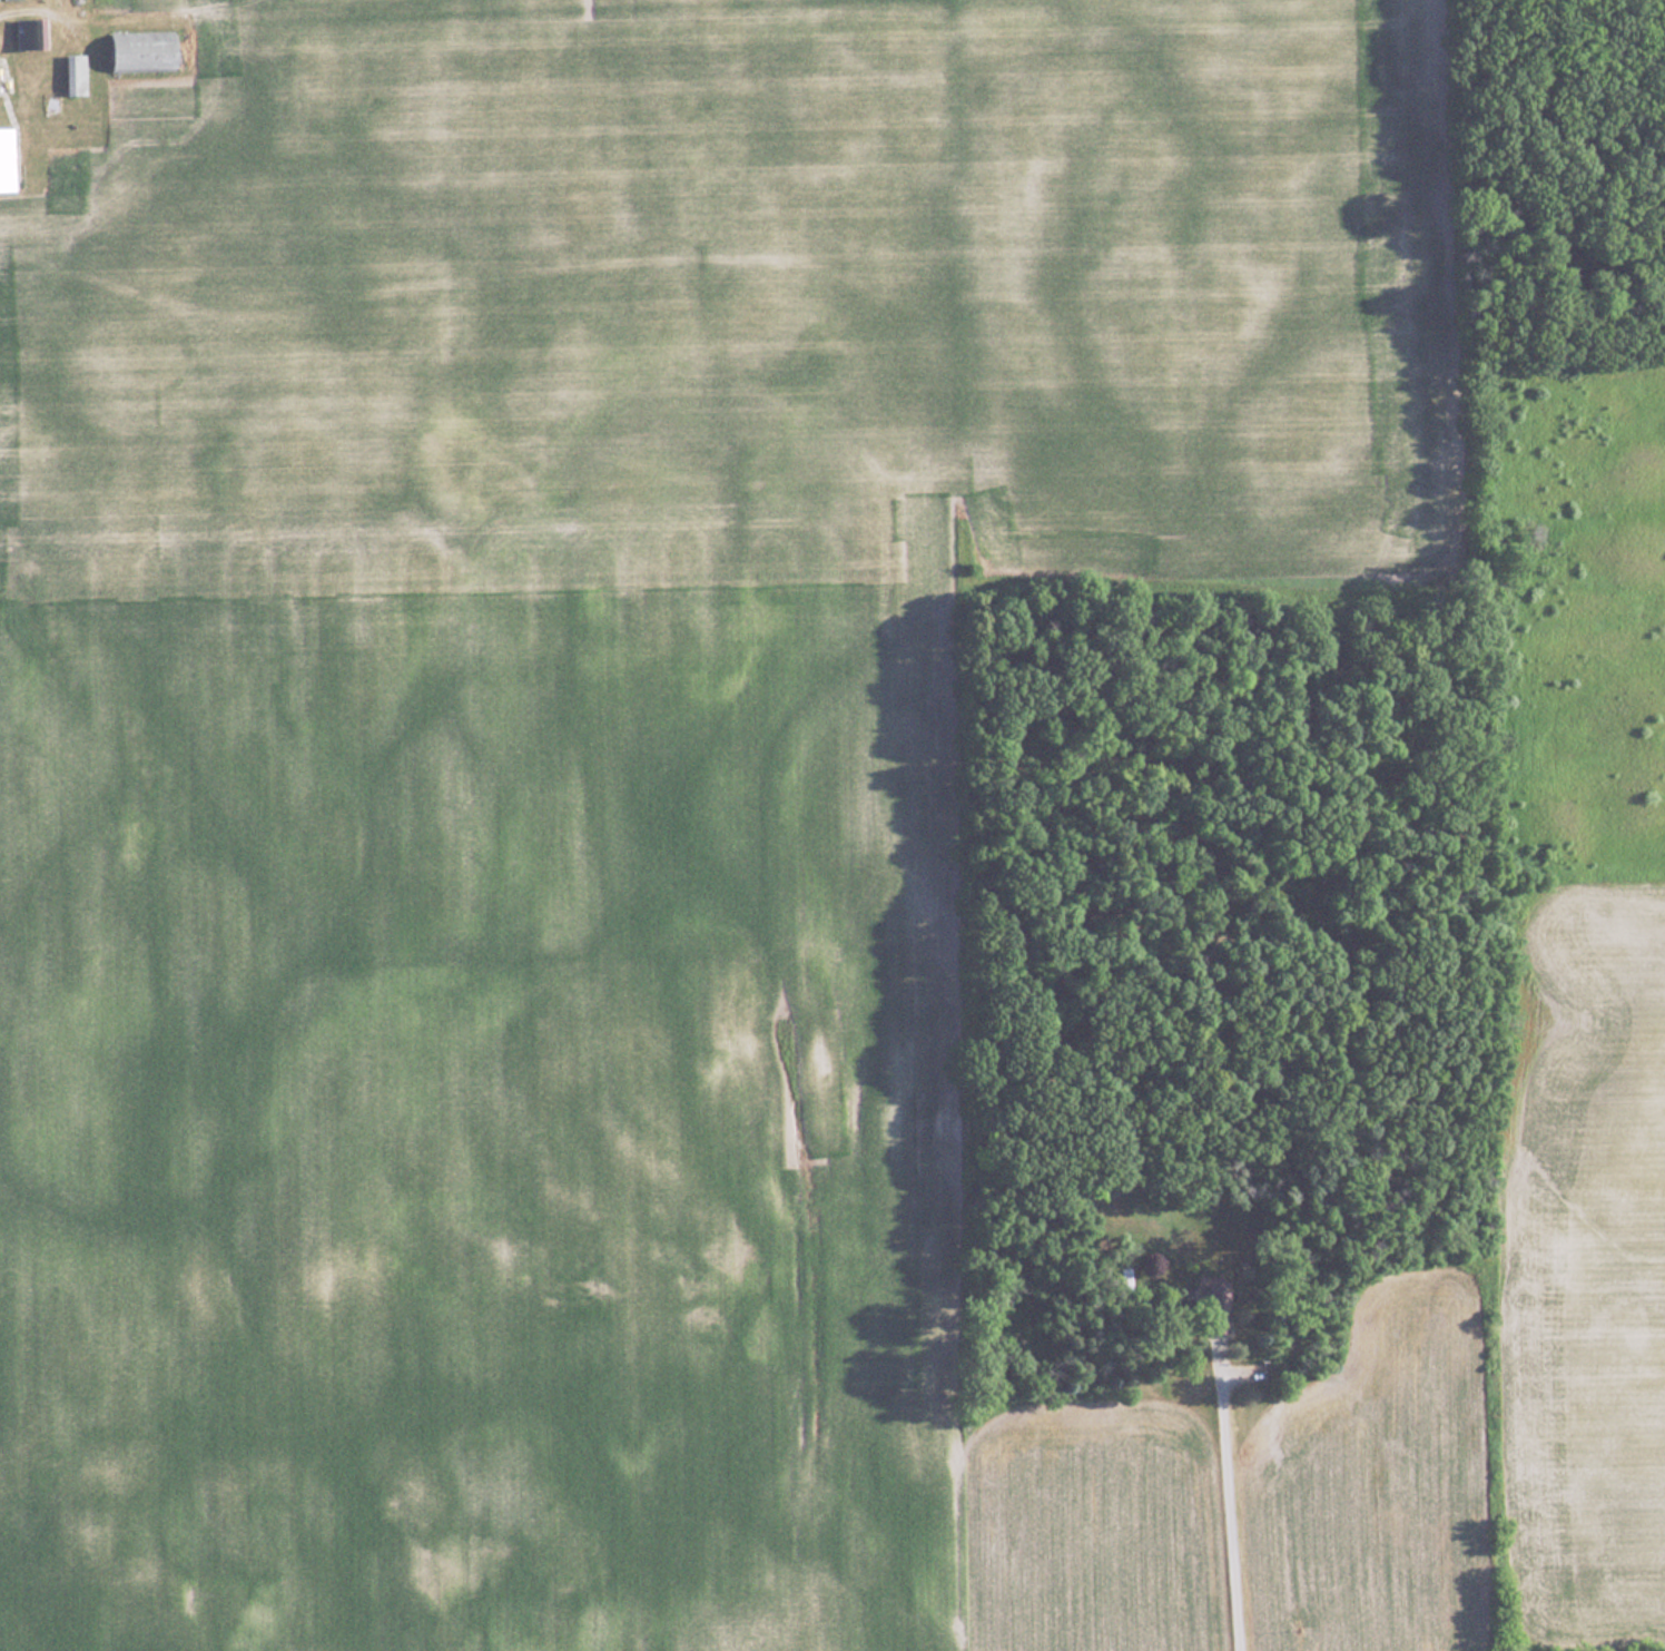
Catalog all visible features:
building: (33, 31)
building: (8, 158)
road: (1229, 1496)

